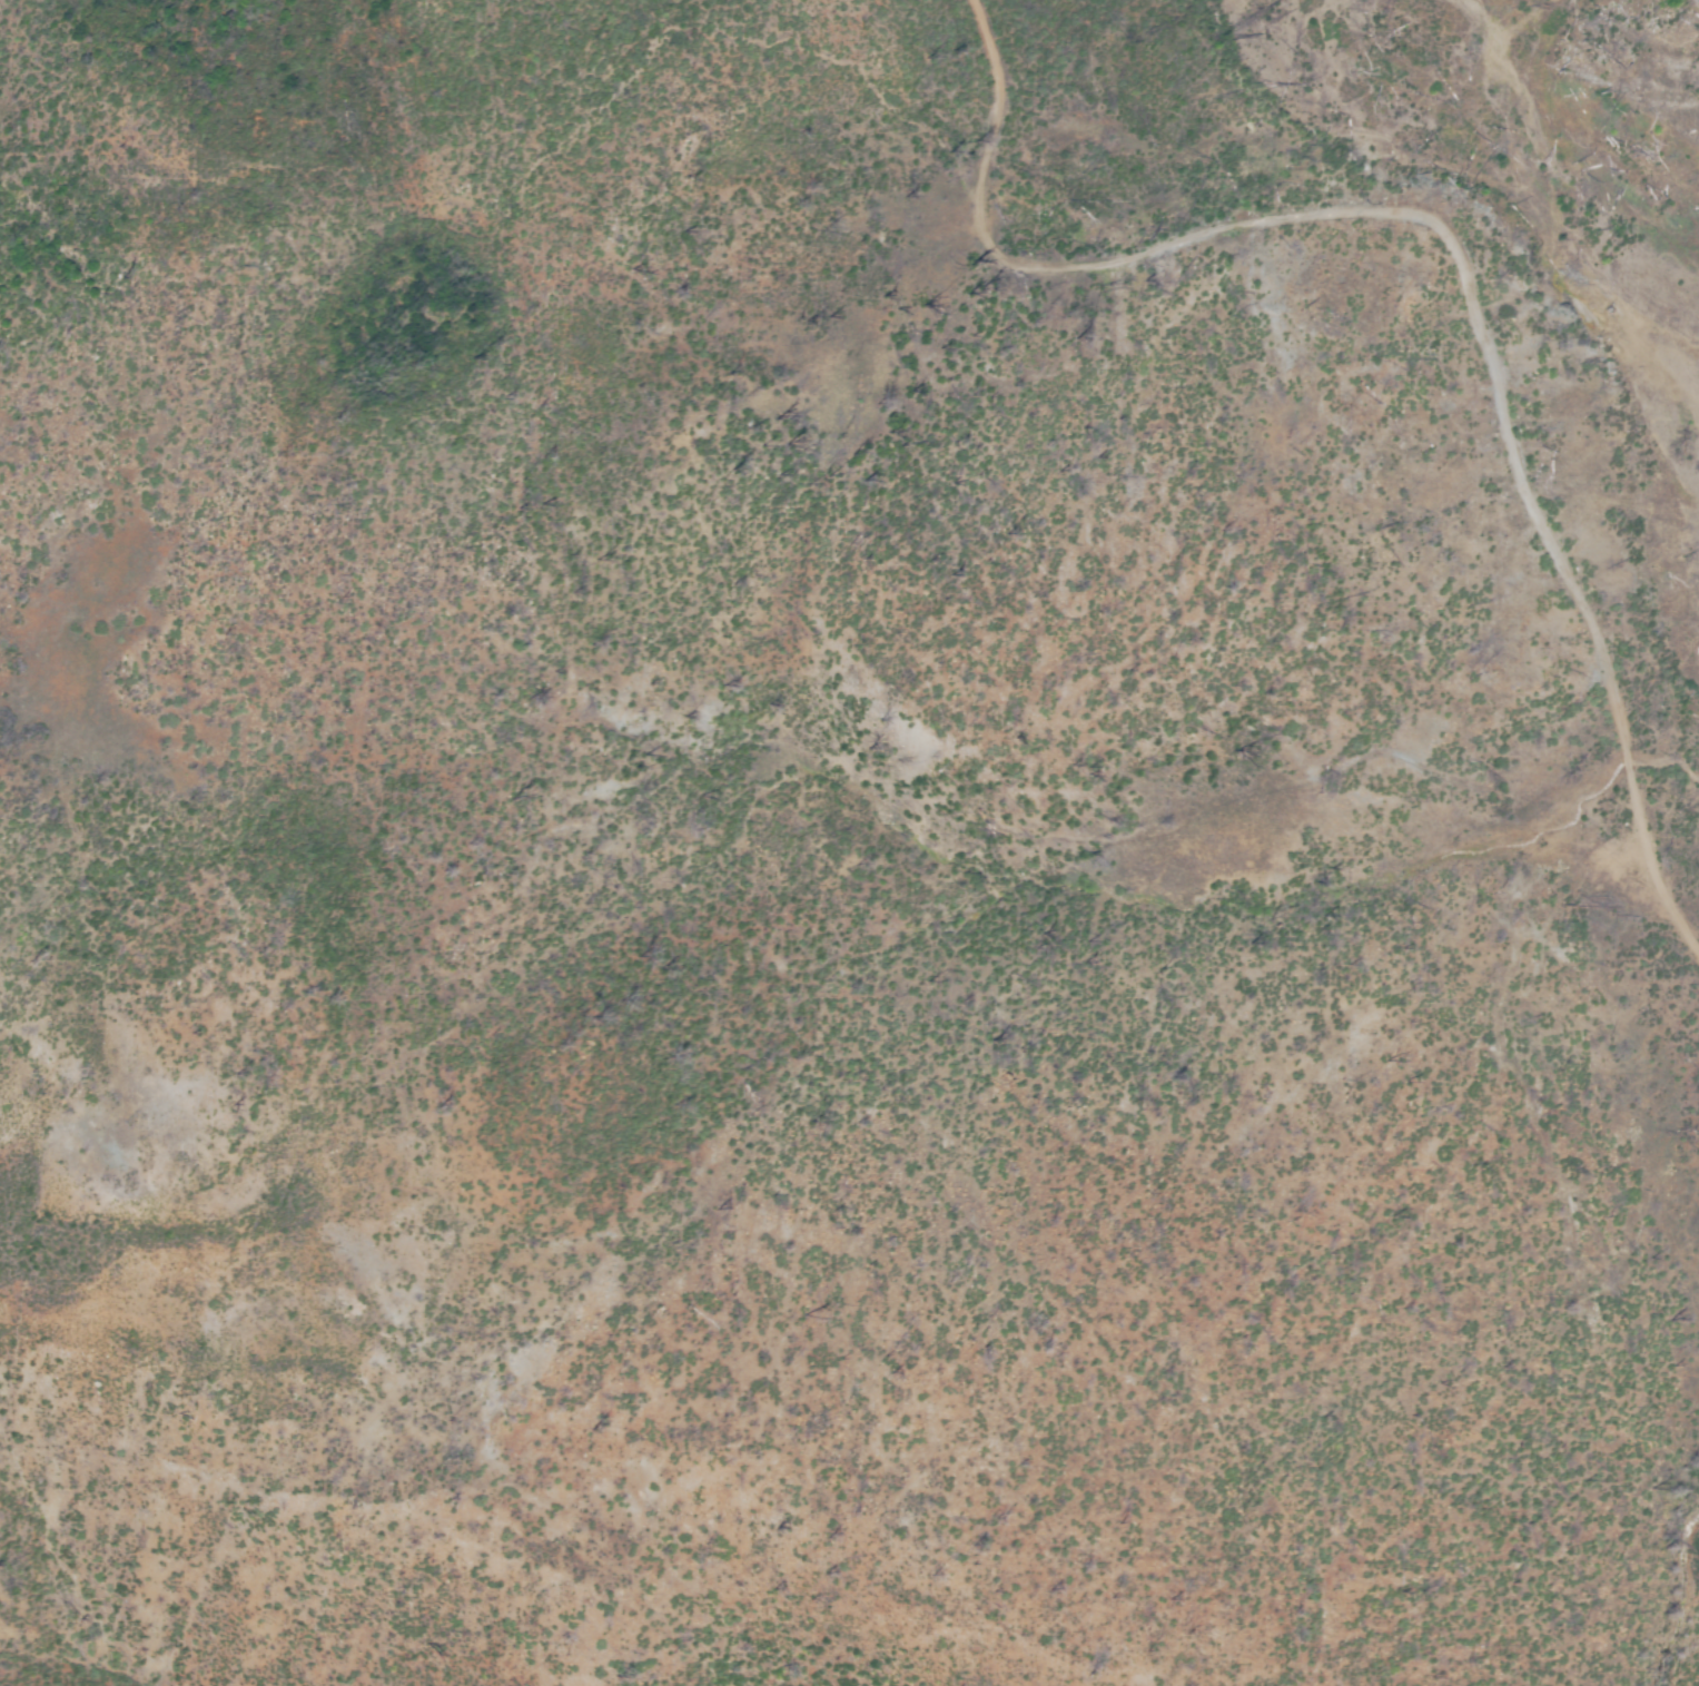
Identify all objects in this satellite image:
road: (1462, 241)

